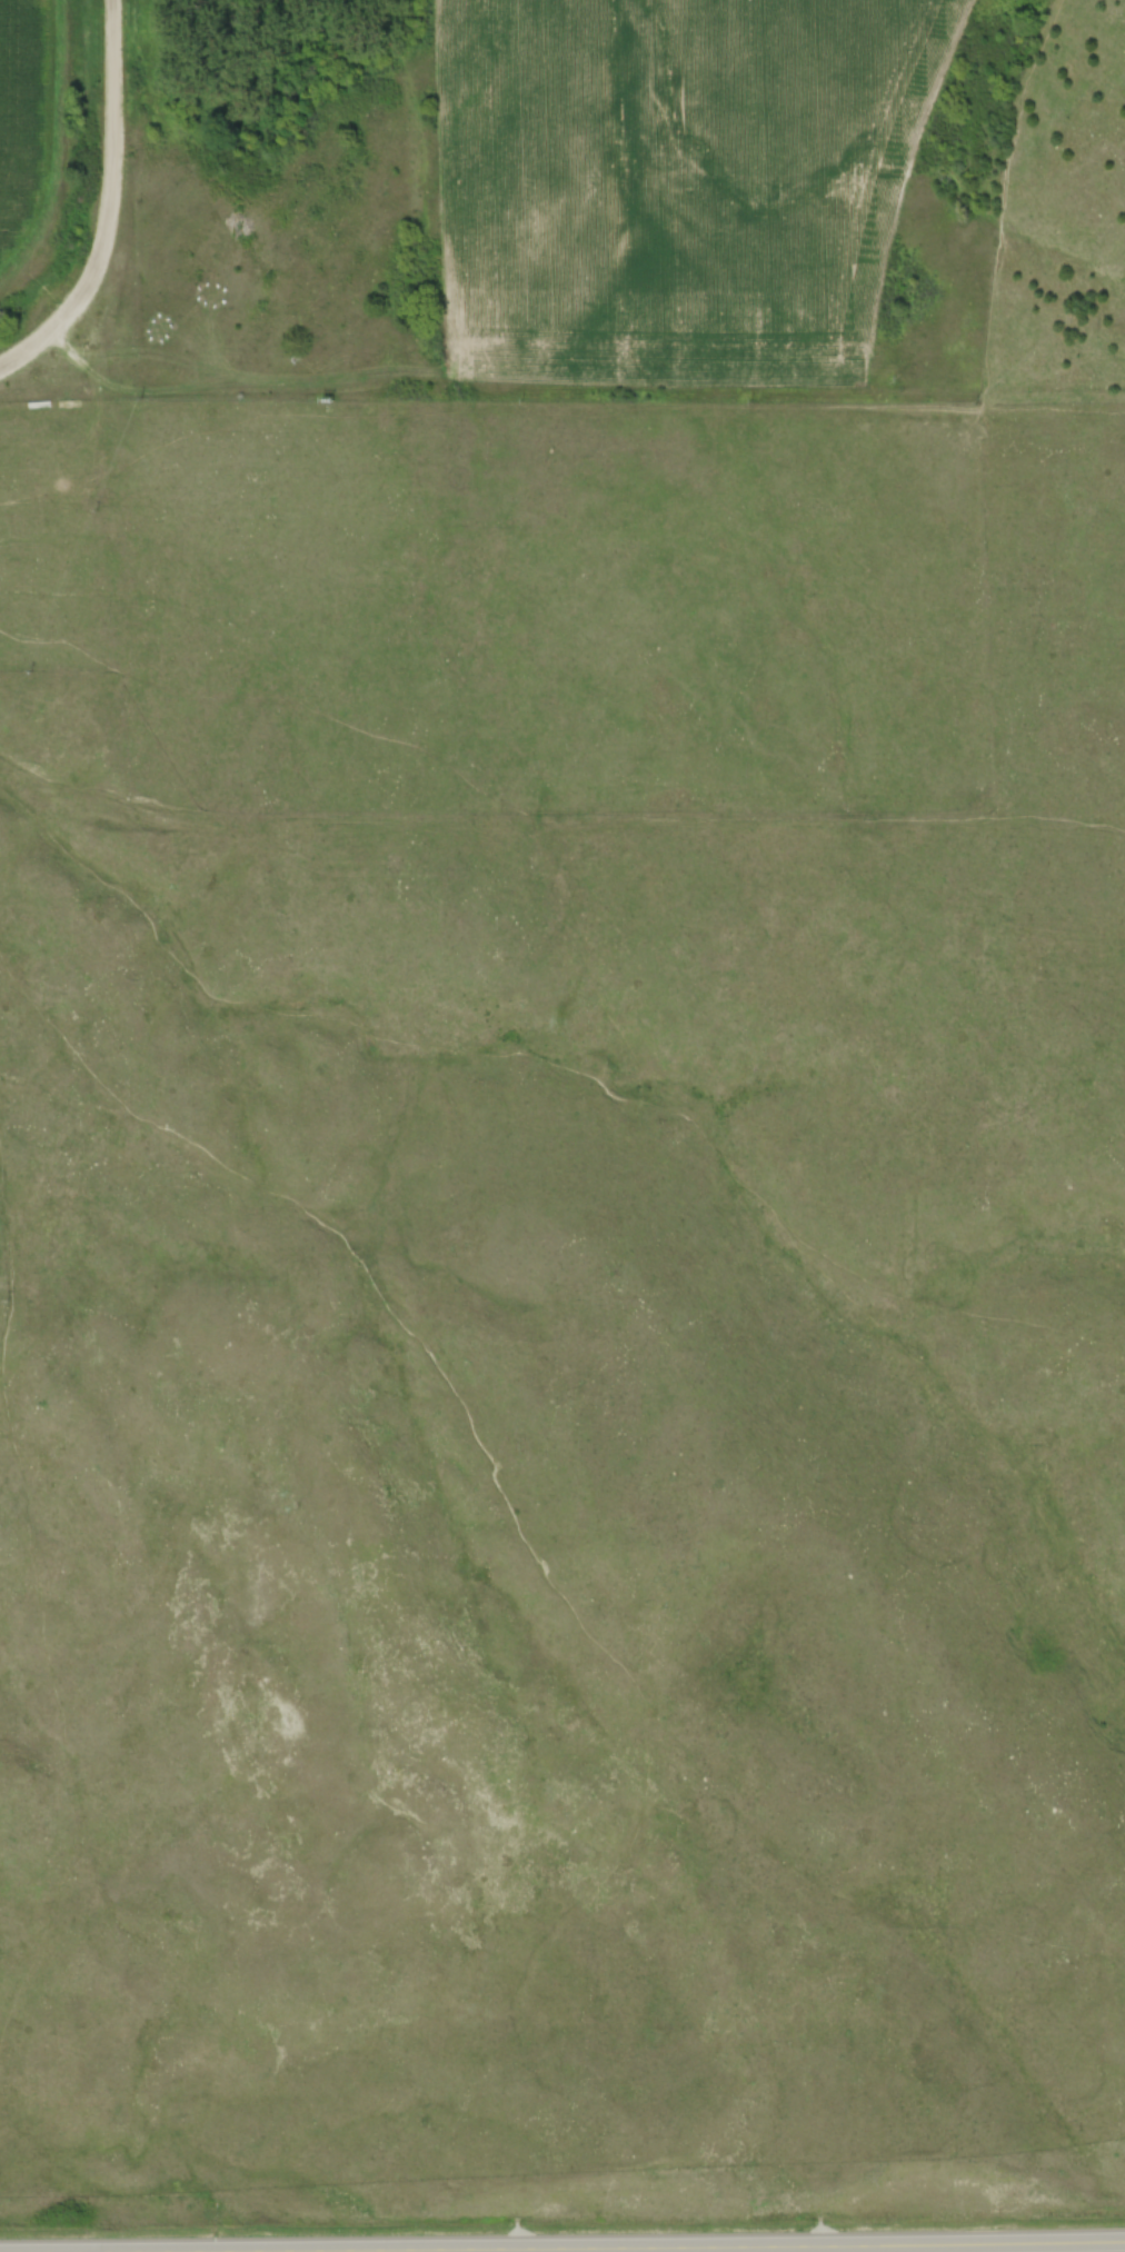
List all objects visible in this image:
road: (109, 170)
road: (29, 351)
road: (784, 2245)

